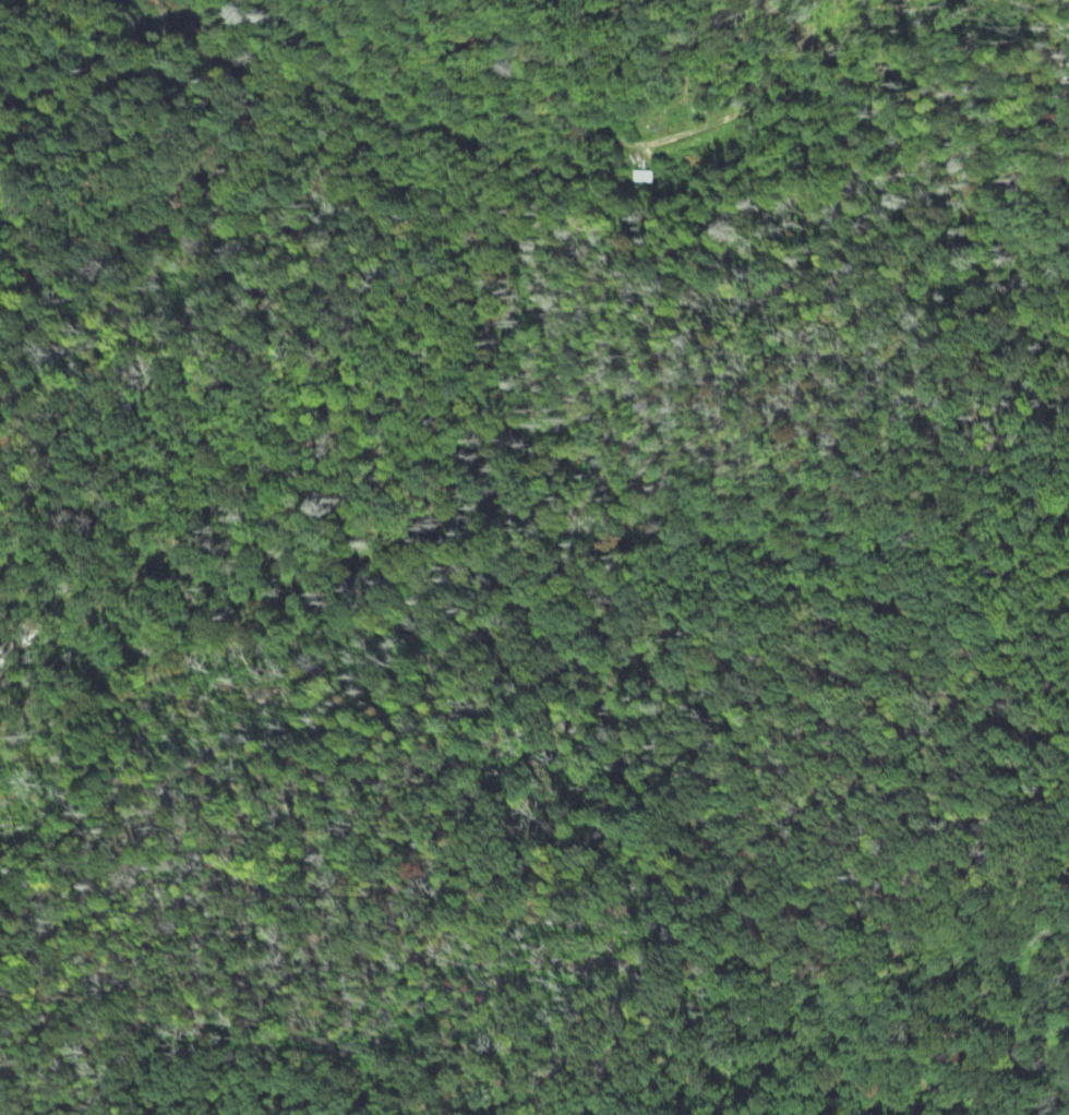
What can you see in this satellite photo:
road: (898, 913)

